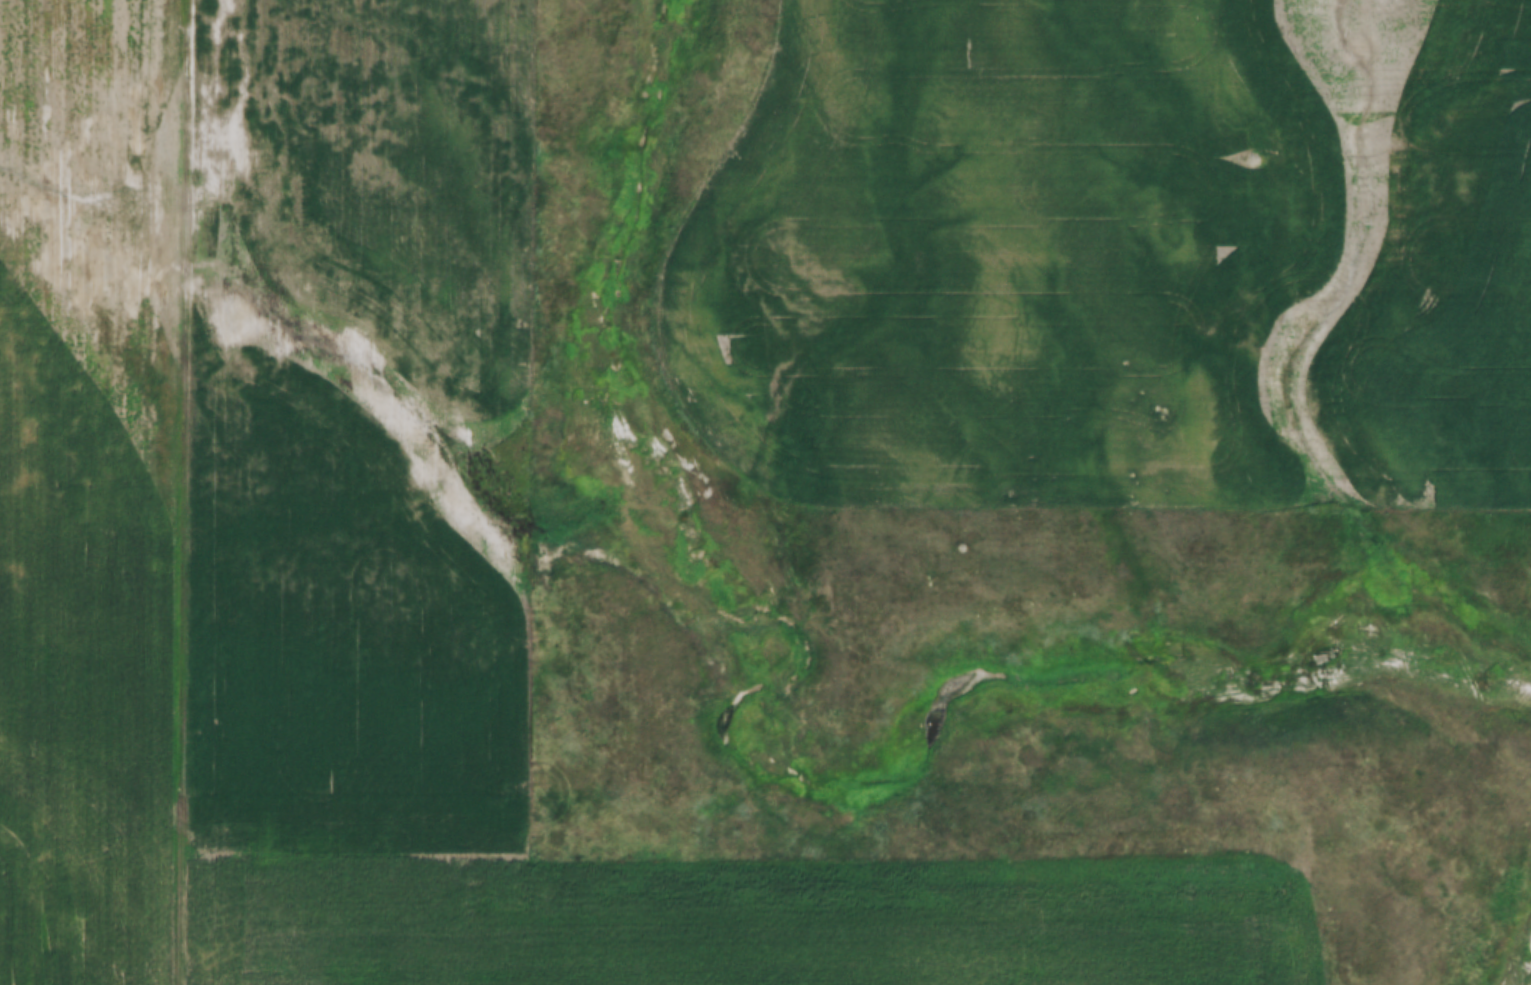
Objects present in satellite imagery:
road: (191, 492)

